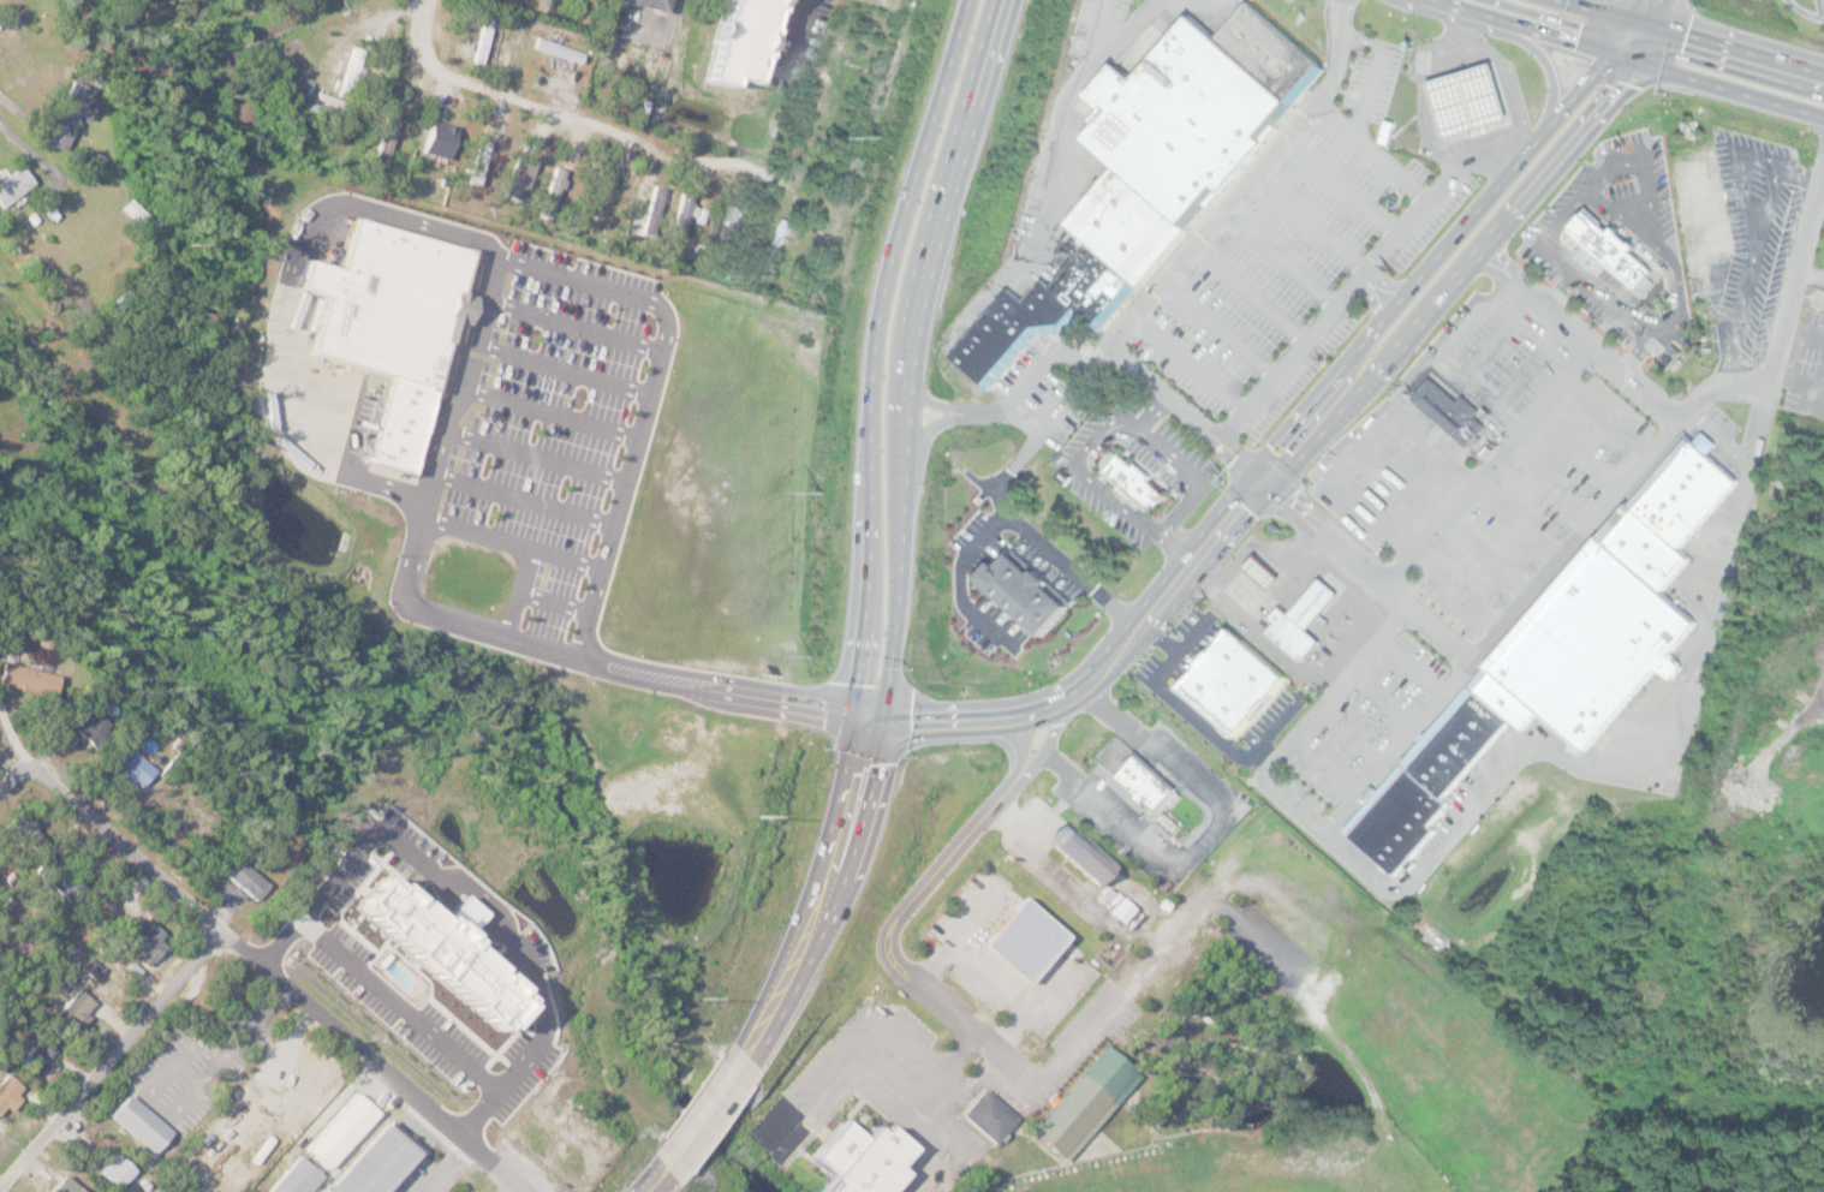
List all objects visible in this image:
building: (648, 4)
road: (1212, 4)
road: (1822, 4)
building: (999, 8)
road: (1638, 10)
road: (1662, 12)
road: (669, 17)
traffic signals: (1633, 19)
traffic signals: (1656, 25)
road: (421, 30)
road: (1123, 30)
road: (1464, 34)
road: (1694, 35)
building: (731, 38)
building: (479, 43)
building: (555, 52)
road: (1539, 52)
traffic signals: (1610, 52)
building: (1268, 53)
road: (1336, 53)
road: (1631, 58)
traffic signals: (1633, 59)
building: (966, 62)
road: (1497, 62)
road: (1373, 68)
building: (348, 71)
building: (853, 88)
building: (1467, 100)
gas station: (1467, 100)
road: (17, 108)
road: (592, 115)
building: (64, 118)
building: (1181, 119)
building: (387, 131)
building: (436, 138)
road: (1373, 150)
road: (1504, 153)
road: (1634, 159)
building: (84, 166)
building: (856, 169)
building: (519, 177)
road: (1822, 180)
road: (1049, 181)
road: (1343, 183)
building: (12, 187)
building: (553, 191)
building: (604, 193)
building: (651, 209)
building: (1697, 210)
building: (130, 214)
building: (681, 215)
road: (1312, 220)
building: (728, 225)
building: (1125, 225)
building: (777, 236)
building: (1609, 251)
road: (1282, 255)
road: (1795, 270)
road: (1810, 270)
road: (584, 281)
building: (1092, 285)
road: (1560, 290)
road: (1252, 291)
road: (281, 296)
building: (391, 300)
building: (1051, 311)
road: (577, 326)
road: (1222, 327)
road: (1802, 330)
road: (1495, 338)
building: (994, 340)
road: (916, 345)
road: (1593, 350)
road: (1436, 358)
road: (1192, 362)
road: (1528, 366)
road: (565, 368)
road: (1084, 375)
road: (1805, 385)
road: (1169, 395)
road: (935, 403)
road: (984, 411)
road: (553, 412)
building: (1448, 413)
road: (1607, 415)
building: (395, 421)
building: (644, 428)
road: (1280, 435)
road: (924, 439)
road: (1578, 449)
road: (536, 454)
road: (1297, 457)
road: (1077, 465)
road: (1488, 465)
traffic signals: (1250, 470)
road: (1194, 478)
building: (1133, 479)
road: (1545, 485)
traffic signals: (1271, 487)
road: (523, 497)
road: (999, 517)
road: (1443, 517)
road: (1516, 519)
road: (872, 526)
road: (1256, 546)
building: (1260, 573)
gas station: (1260, 573)
road: (517, 591)
building: (1021, 591)
road: (554, 601)
building: (817, 610)
road: (1483, 614)
building: (1301, 619)
gas station: (1301, 619)
road: (452, 620)
road: (1192, 636)
road: (1484, 642)
building: (1562, 651)
road: (1409, 662)
building: (26, 680)
building: (1229, 684)
road: (1379, 697)
traffic signals: (854, 701)
traffic signals: (889, 703)
road: (1425, 711)
road: (1202, 720)
traffic signals: (852, 725)
building: (88, 729)
traffic signals: (883, 729)
road: (1353, 729)
road: (1263, 751)
building: (1109, 753)
road: (1323, 764)
building: (130, 768)
building: (1143, 783)
road: (1013, 819)
building: (23, 834)
road: (111, 834)
road: (1437, 844)
building: (1081, 854)
building: (56, 880)
building: (243, 880)
road: (834, 888)
road: (473, 892)
building: (1103, 894)
building: (1164, 905)
building: (281, 919)
road: (952, 936)
building: (1020, 940)
building: (144, 943)
building: (428, 944)
building: (725, 953)
building: (350, 970)
road: (906, 975)
road: (984, 977)
building: (371, 989)
road: (401, 1005)
road: (1023, 1011)
building: (71, 1013)
building: (691, 1020)
road: (108, 1056)
building: (34, 1057)
road: (369, 1060)
road: (871, 1071)
building: (7, 1093)
road: (696, 1099)
building: (1083, 1099)
building: (608, 1107)
building: (986, 1115)
road: (708, 1119)
building: (137, 1125)
building: (340, 1128)
building: (858, 1158)
building: (376, 1162)
road: (441, 1167)
road: (640, 1173)
building: (294, 1176)
road: (660, 1182)

